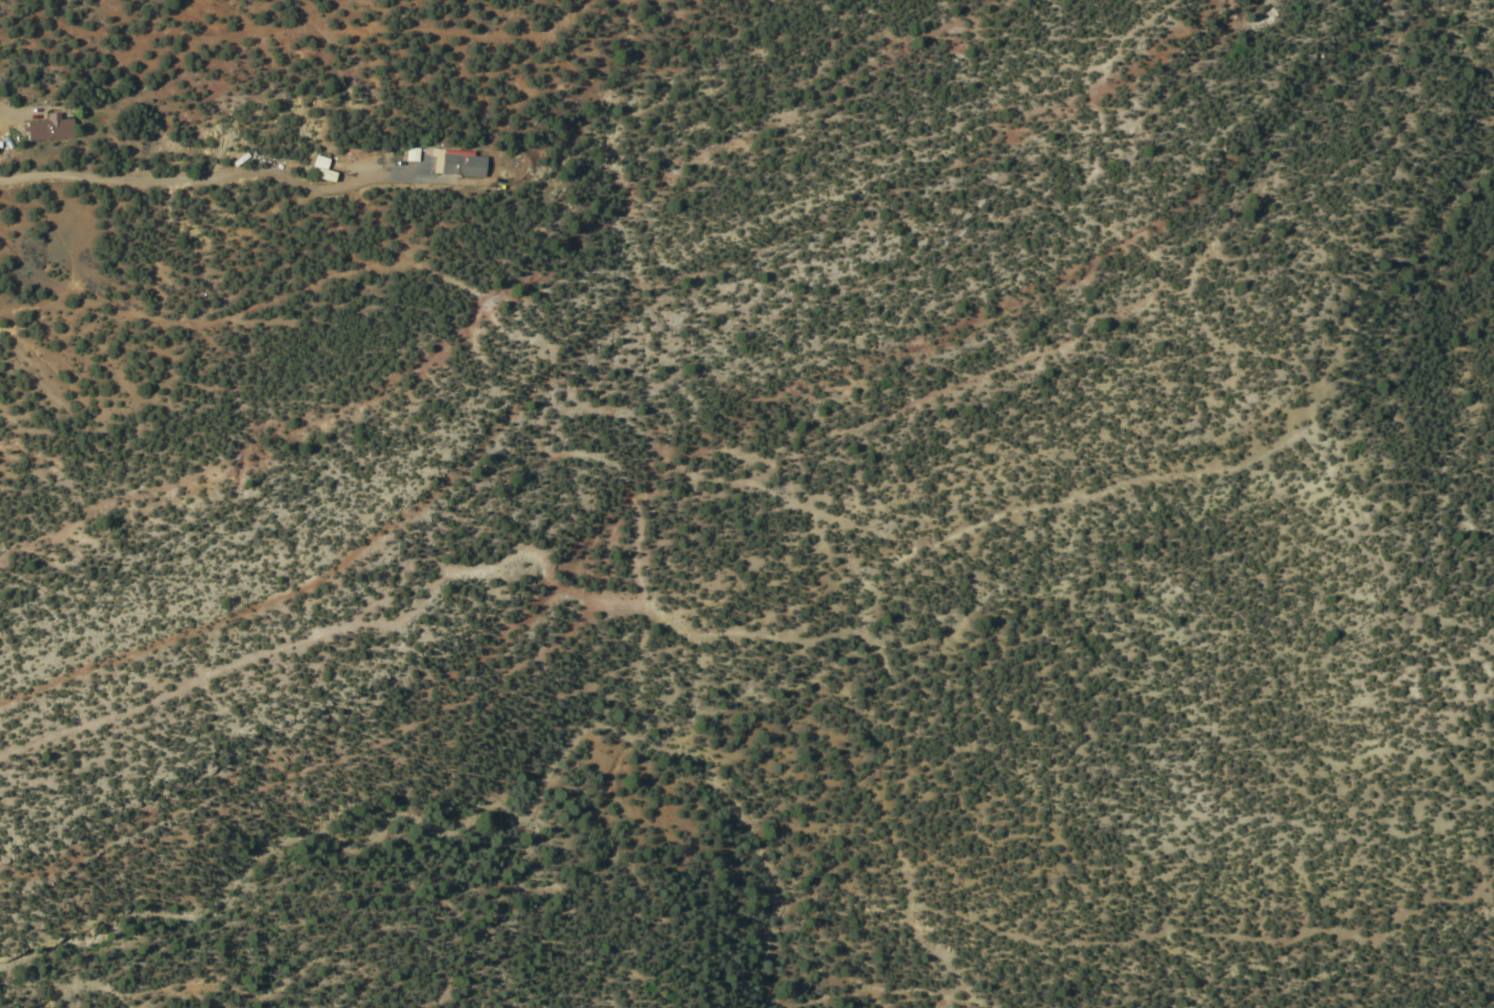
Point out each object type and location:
building: (47, 129)
building: (461, 165)
road: (192, 175)

